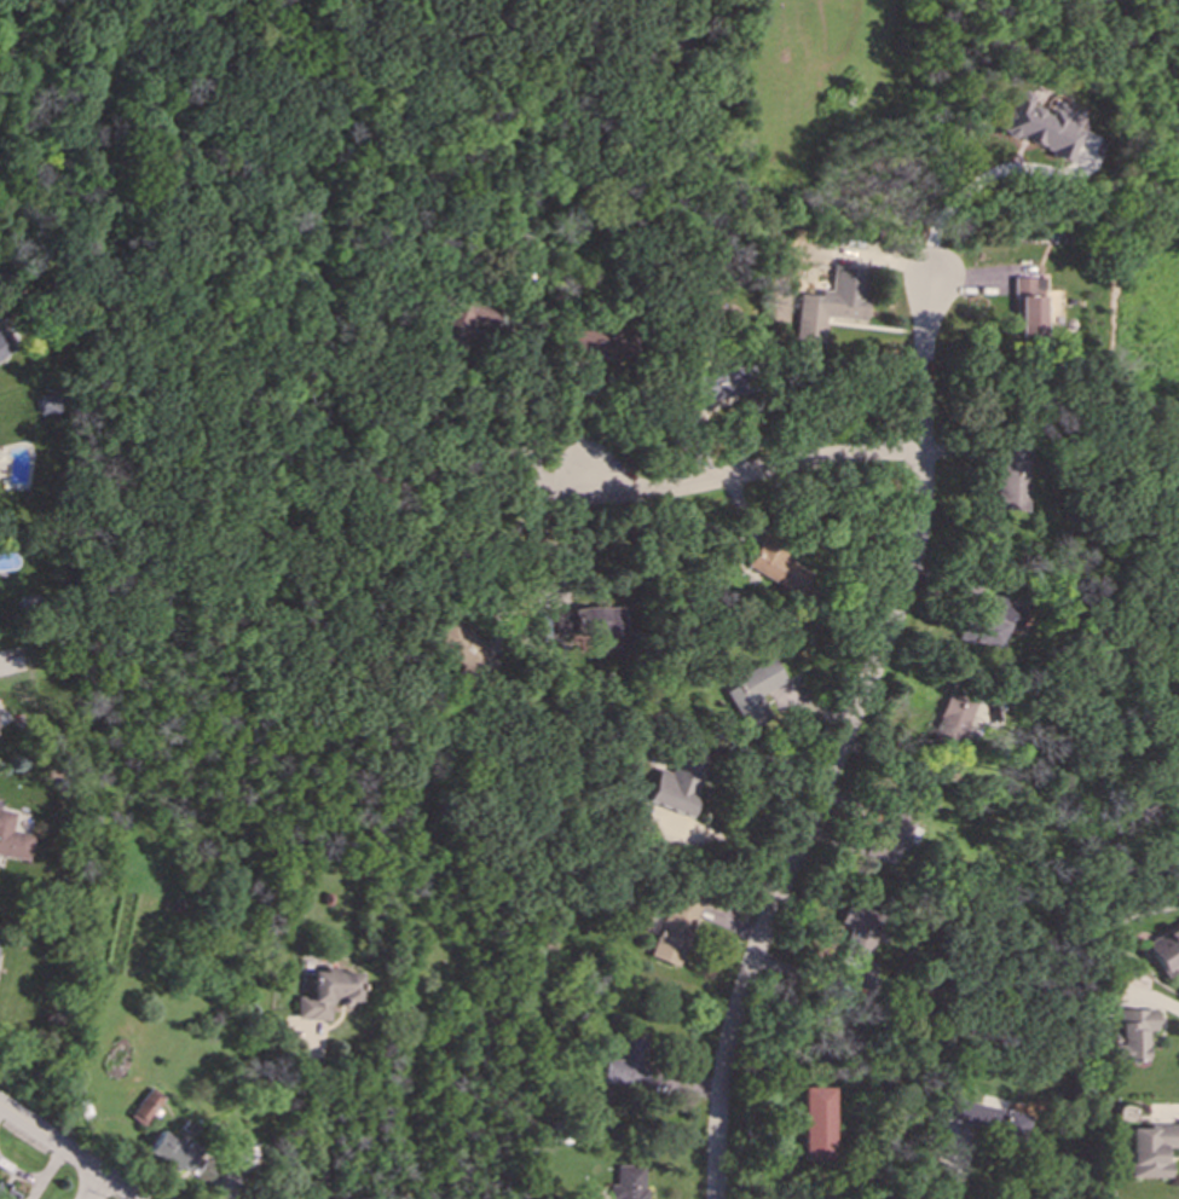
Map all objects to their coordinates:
building: (1041, 126)
road: (954, 201)
road: (533, 226)
building: (832, 303)
building: (1029, 306)
building: (463, 320)
building: (4, 346)
building: (583, 346)
building: (713, 384)
building: (50, 405)
road: (752, 475)
building: (1013, 477)
road: (513, 532)
building: (779, 568)
building: (998, 620)
building: (603, 621)
building: (466, 648)
building: (755, 693)
building: (952, 722)
road: (842, 746)
building: (677, 784)
building: (12, 839)
building: (890, 839)
road: (733, 845)
building: (675, 928)
building: (859, 936)
building: (1167, 951)
building: (861, 981)
building: (328, 994)
building: (1133, 1033)
building: (626, 1065)
building: (145, 1107)
road: (322, 1123)
building: (982, 1123)
building: (815, 1124)
building: (1151, 1149)
road: (70, 1152)
building: (171, 1152)
building: (628, 1183)
road: (97, 1187)
building: (6, 1193)

